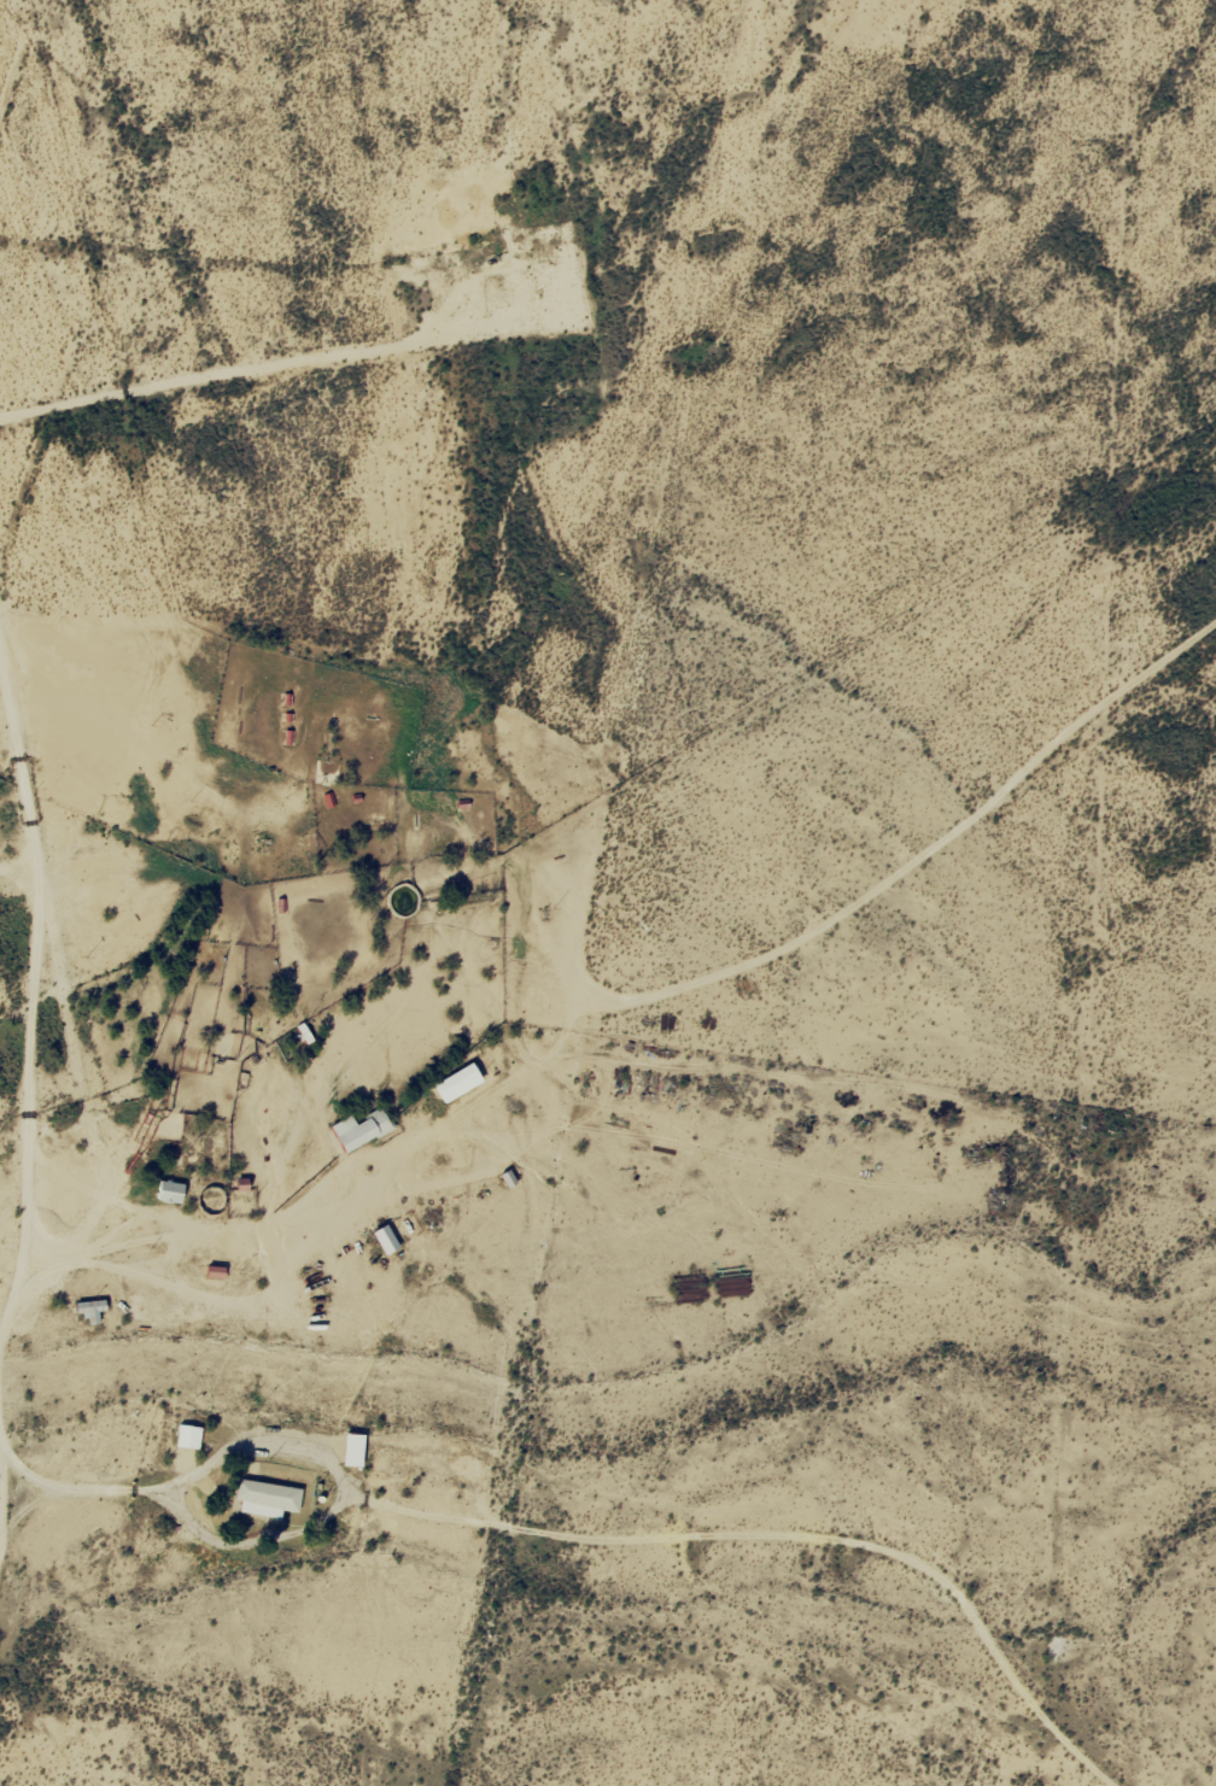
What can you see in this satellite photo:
road: (16, 901)
road: (683, 1048)
building: (456, 1084)
building: (361, 1130)
road: (93, 1154)
building: (169, 1191)
building: (385, 1240)
building: (90, 1311)
building: (187, 1437)
building: (352, 1451)
building: (265, 1499)
road: (106, 1507)
road: (656, 1569)

